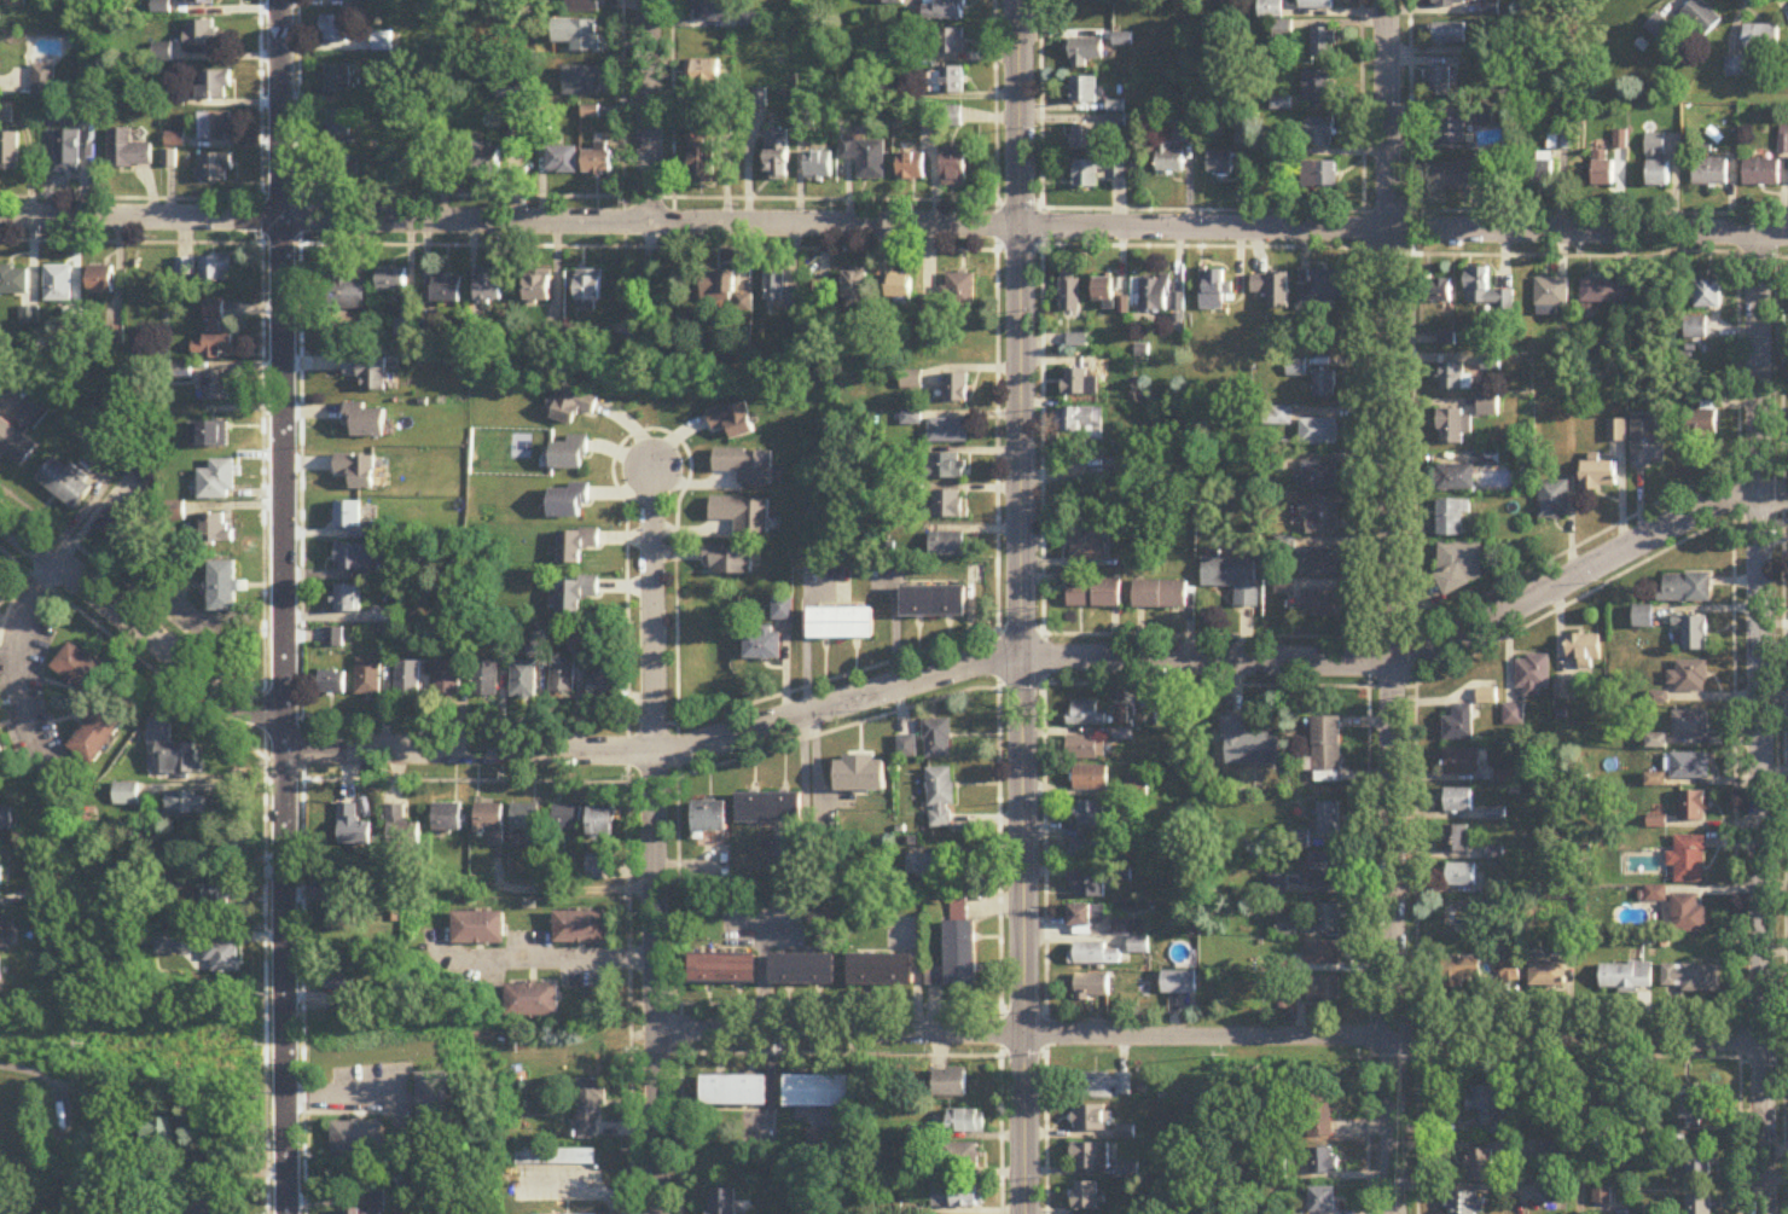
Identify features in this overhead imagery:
building: (342, 0)
building: (196, 1)
building: (1456, 1)
building: (1316, 5)
building: (584, 6)
building: (944, 10)
building: (1270, 10)
building: (713, 11)
building: (1701, 17)
building: (333, 31)
building: (1450, 34)
building: (201, 35)
building: (577, 35)
building: (1760, 37)
building: (946, 41)
building: (1323, 43)
building: (1085, 52)
building: (1736, 68)
building: (704, 76)
building: (336, 80)
building: (946, 81)
building: (45, 82)
building: (582, 82)
building: (1445, 82)
building: (214, 86)
building: (1317, 87)
building: (513, 91)
building: (1082, 92)
road: (655, 112)
building: (941, 117)
building: (337, 127)
building: (215, 128)
building: (1319, 133)
building: (1450, 133)
building: (1082, 139)
building: (66, 151)
building: (127, 151)
building: (10, 152)
building: (778, 155)
building: (866, 157)
building: (1168, 159)
building: (484, 161)
building: (562, 162)
building: (1655, 162)
building: (597, 164)
building: (702, 164)
building: (819, 165)
building: (1219, 165)
building: (912, 167)
building: (954, 167)
building: (214, 168)
building: (338, 170)
building: (1539, 170)
building: (1602, 170)
building: (1709, 173)
building: (1096, 174)
building: (1760, 174)
building: (1318, 175)
building: (1458, 179)
road: (893, 226)
building: (215, 271)
building: (100, 280)
building: (391, 280)
building: (13, 283)
building: (58, 285)
building: (719, 286)
building: (539, 287)
building: (774, 287)
building: (447, 289)
building: (489, 290)
building: (1214, 290)
building: (1272, 290)
building: (1318, 290)
building: (588, 291)
building: (900, 291)
building: (1104, 291)
building: (348, 292)
building: (842, 292)
building: (1439, 292)
building: (1069, 294)
building: (1485, 294)
building: (1154, 295)
building: (1606, 295)
building: (1708, 295)
building: (953, 296)
building: (1551, 297)
building: (1695, 329)
building: (214, 335)
building: (1075, 342)
building: (366, 372)
building: (1452, 378)
building: (1079, 383)
building: (1323, 384)
building: (219, 385)
building: (956, 389)
building: (570, 406)
building: (1487, 407)
building: (31, 413)
building: (1707, 416)
building: (1279, 417)
building: (362, 420)
building: (1080, 420)
building: (731, 422)
building: (1453, 428)
building: (948, 431)
building: (1318, 432)
building: (214, 435)
building: (1647, 443)
building: (14, 445)
building: (569, 455)
building: (745, 466)
building: (946, 467)
building: (1130, 469)
building: (355, 471)
building: (1319, 476)
building: (1597, 476)
building: (1455, 478)
building: (217, 481)
building: (64, 483)
building: (1552, 501)
building: (567, 503)
building: (950, 505)
building: (742, 515)
building: (347, 516)
building: (1322, 516)
building: (1451, 519)
building: (216, 530)
building: (121, 532)
building: (1089, 542)
building: (575, 546)
building: (947, 546)
building: (354, 558)
building: (727, 562)
building: (1318, 563)
building: (1459, 568)
building: (1232, 580)
building: (222, 588)
building: (1687, 591)
building: (575, 594)
building: (1096, 594)
building: (1160, 597)
building: (347, 599)
building: (933, 604)
building: (1320, 605)
road: (286, 606)
road: (1026, 606)
road: (1391, 606)
road: (655, 611)
building: (782, 611)
building: (840, 626)
building: (1693, 634)
building: (333, 638)
building: (761, 645)
building: (1584, 651)
road: (18, 660)
building: (82, 673)
building: (367, 678)
building: (562, 678)
building: (1532, 678)
building: (447, 679)
building: (1689, 679)
building: (407, 680)
building: (483, 680)
building: (523, 681)
building: (331, 684)
building: (602, 685)
building: (1563, 692)
road: (873, 698)
building: (1086, 715)
road: (1759, 724)
building: (1458, 725)
building: (1690, 726)
building: (97, 738)
building: (937, 740)
building: (1248, 745)
building: (1327, 745)
building: (907, 749)
building: (1085, 749)
building: (174, 751)
building: (1, 753)
building: (1462, 762)
building: (1690, 767)
building: (860, 776)
building: (1091, 779)
road: (216, 784)
building: (1138, 785)
building: (127, 796)
building: (941, 800)
building: (1458, 801)
building: (187, 805)
building: (1693, 807)
building: (770, 809)
building: (1091, 815)
building: (447, 818)
building: (710, 818)
building: (489, 819)
building: (568, 819)
building: (1329, 820)
building: (602, 823)
building: (528, 824)
building: (353, 827)
building: (401, 827)
building: (1457, 840)
building: (1085, 853)
building: (1689, 860)
building: (924, 867)
building: (1325, 871)
building: (1461, 876)
building: (1, 882)
building: (1087, 888)
road: (565, 889)
building: (226, 896)
building: (962, 905)
building: (1688, 916)
building: (1086, 917)
building: (346, 918)
building: (1329, 919)
building: (1121, 928)
building: (480, 929)
building: (581, 929)
building: (6, 934)
building: (1139, 946)
building: (962, 954)
building: (1324, 954)
building: (1096, 955)
building: (224, 958)
road: (571, 959)
building: (724, 970)
building: (803, 970)
building: (0, 971)
building: (882, 971)
building: (1461, 971)
building: (1510, 971)
building: (1548, 976)
building: (1626, 977)
building: (341, 980)
building: (1691, 980)
road: (658, 982)
building: (1179, 983)
building: (1092, 987)
building: (1324, 991)
building: (533, 1001)
road: (1223, 1039)
building: (951, 1084)
building: (1107, 1086)
building: (735, 1091)
building: (817, 1092)
road: (346, 1094)
building: (436, 1100)
building: (1613, 1102)
building: (1690, 1106)
building: (590, 1109)
building: (1319, 1113)
building: (1091, 1120)
building: (968, 1123)
building: (151, 1132)
building: (360, 1140)
building: (825, 1142)
building: (551, 1158)
building: (963, 1158)
building: (1091, 1158)
building: (1697, 1163)
building: (1322, 1164)
building: (1480, 1166)
building: (959, 1198)
building: (1086, 1198)
building: (1324, 1201)
building: (724, 1202)
building: (377, 1203)
building: (1465, 1203)
building: (1699, 1204)
building: (10, 1208)
building: (137, 1208)
building: (211, 1208)

